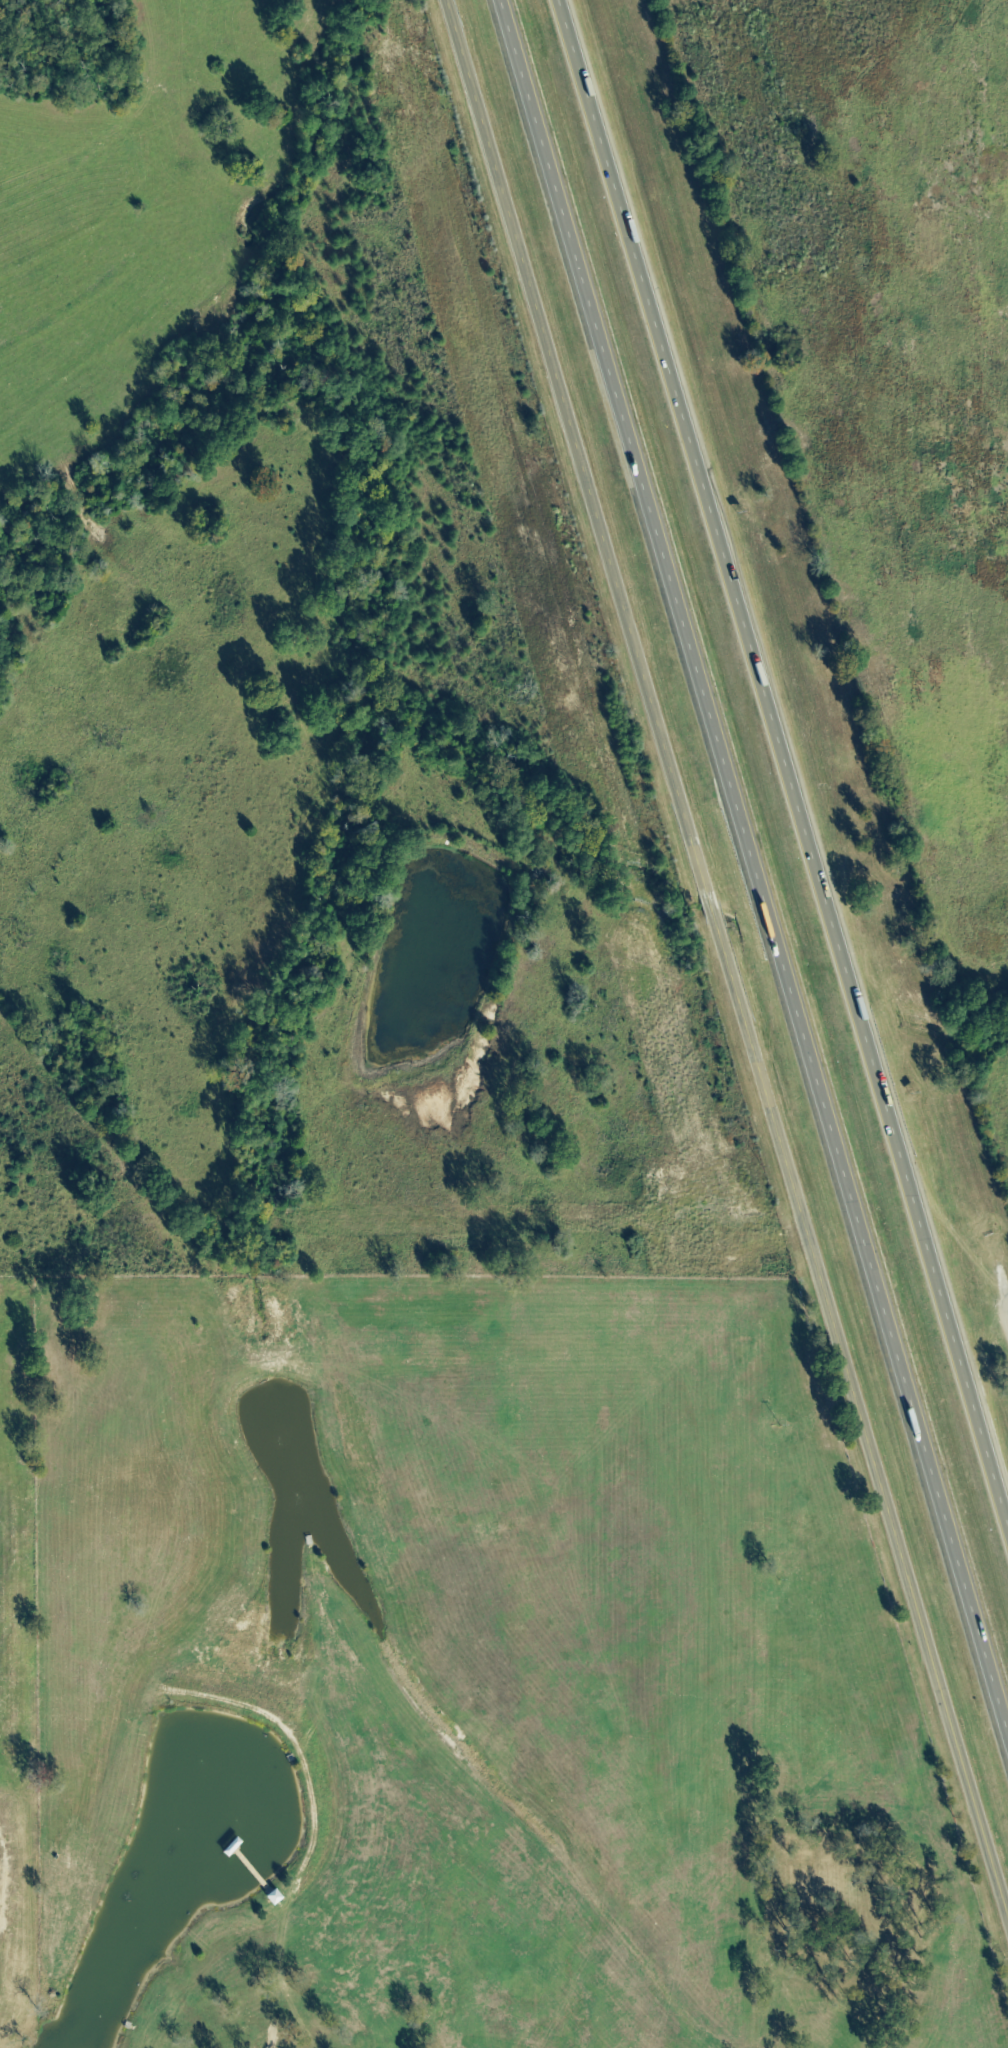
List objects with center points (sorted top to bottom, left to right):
road: (783, 762)
road: (747, 860)
road: (728, 958)
road: (1002, 1285)
road: (1007, 1296)

